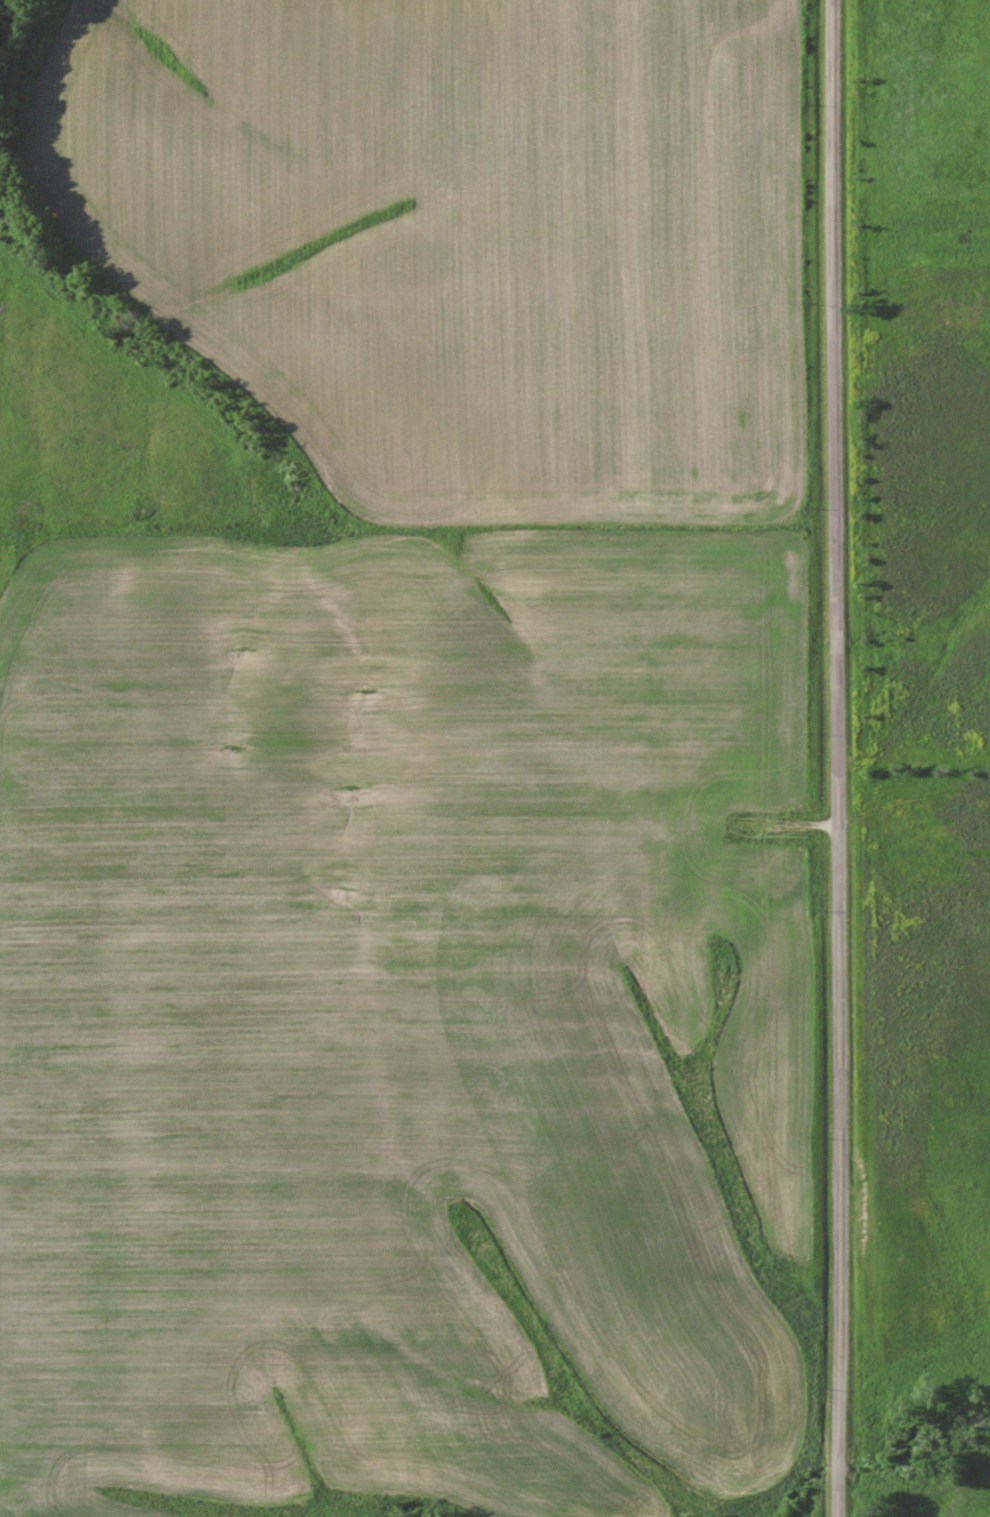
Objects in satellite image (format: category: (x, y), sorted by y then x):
road: (841, 758)

